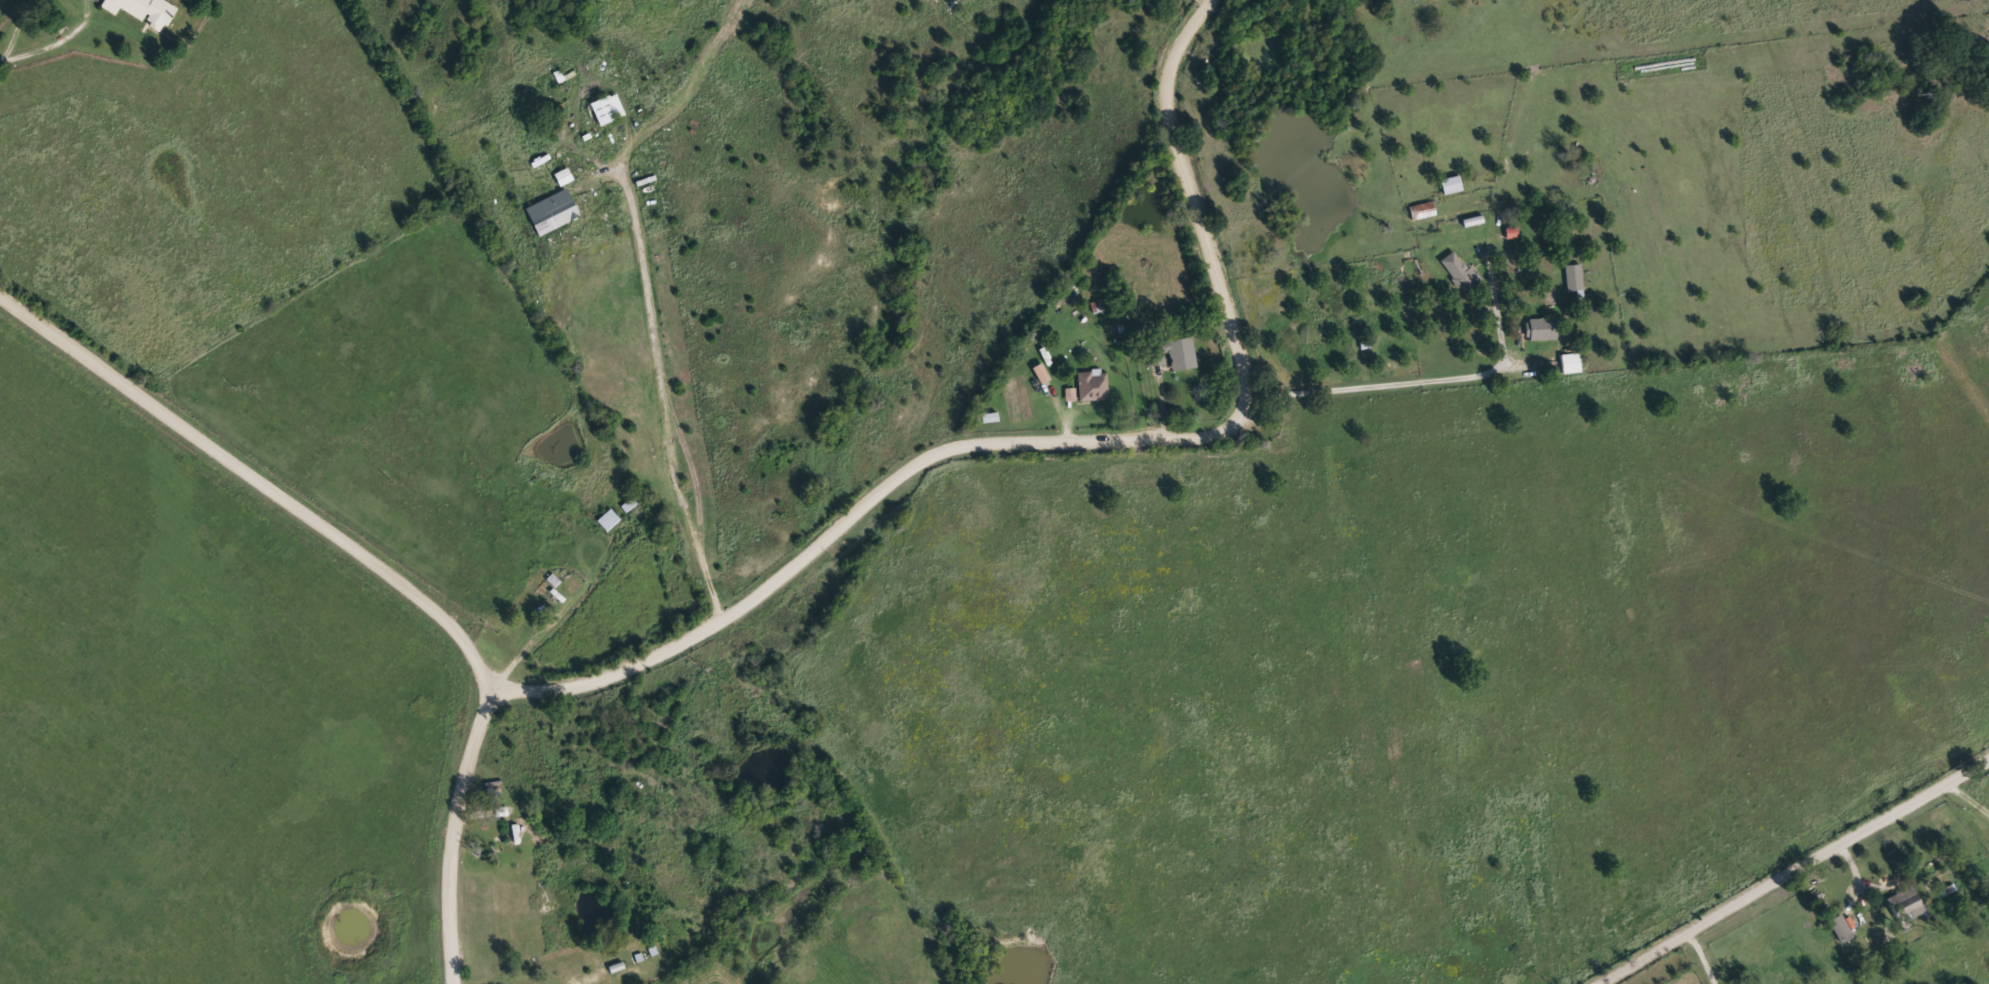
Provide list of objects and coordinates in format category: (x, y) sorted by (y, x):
building: (145, 10)
road: (12, 26)
road: (672, 103)
building: (607, 108)
building: (1452, 183)
building: (1422, 210)
building: (553, 211)
building: (1460, 270)
road: (1490, 276)
building: (1574, 277)
building: (1541, 328)
building: (1173, 352)
building: (1571, 362)
road: (1385, 378)
building: (1093, 385)
road: (1162, 402)
road: (665, 412)
building: (992, 416)
road: (1048, 436)
road: (255, 473)
road: (1345, 477)
building: (608, 519)
road: (553, 613)
road: (1970, 797)
road: (456, 829)
road: (1787, 868)
building: (1907, 903)
building: (1842, 927)
road: (1700, 954)

